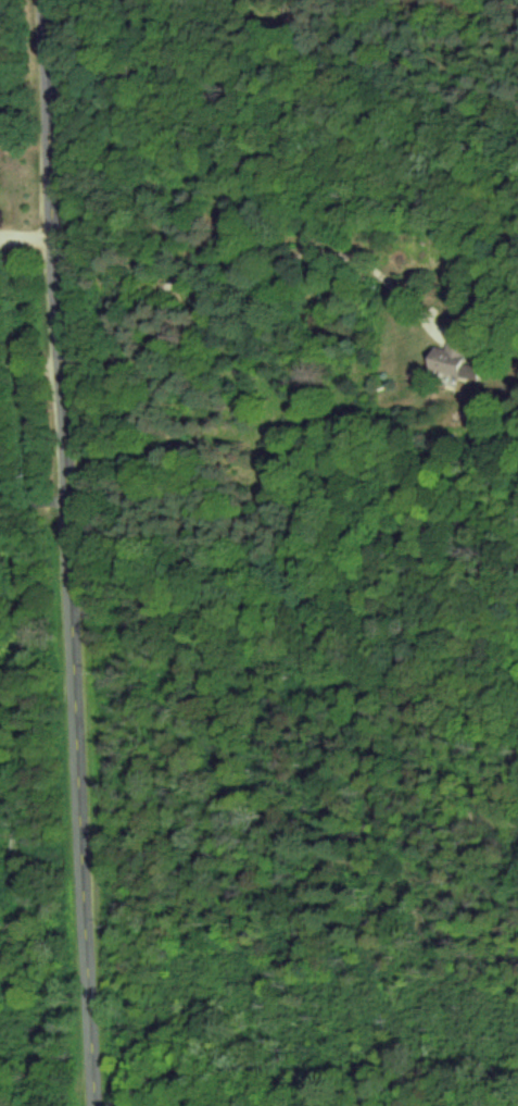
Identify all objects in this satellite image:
road: (230, 248)
road: (28, 362)
building: (451, 362)
road: (31, 499)
road: (66, 552)

